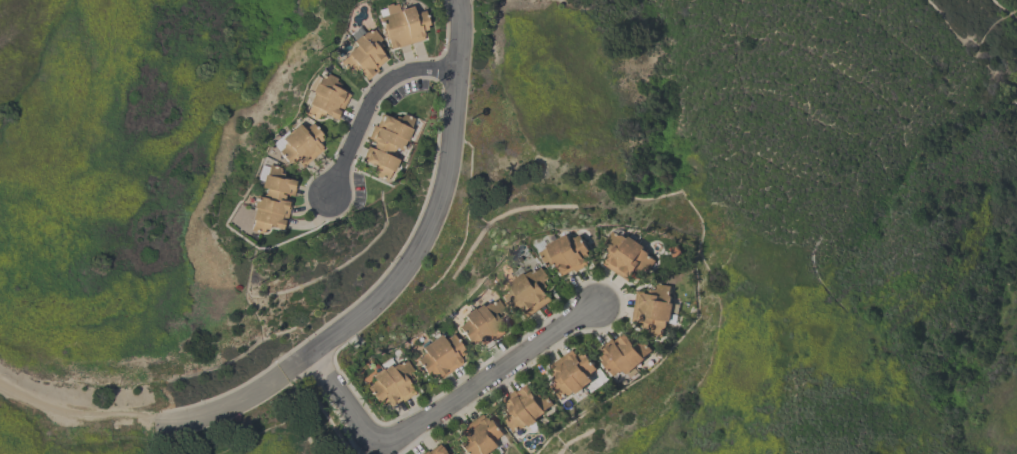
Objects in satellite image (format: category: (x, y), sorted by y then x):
building: (401, 24)
building: (363, 54)
road: (371, 96)
building: (325, 97)
building: (386, 143)
building: (299, 144)
building: (271, 201)
building: (567, 252)
building: (626, 254)
building: (528, 291)
building: (652, 308)
road: (335, 323)
building: (482, 323)
building: (622, 353)
building: (439, 355)
building: (571, 372)
building: (390, 382)
road: (443, 397)
building: (524, 407)
building: (479, 436)
building: (434, 450)
building: (448, 453)

